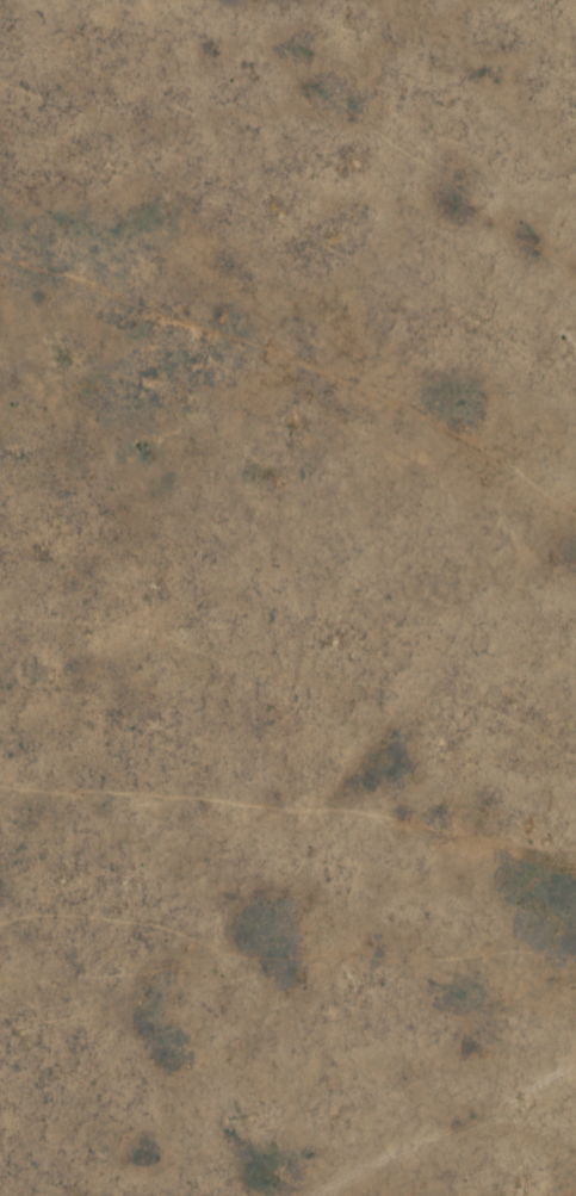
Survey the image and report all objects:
road: (248, 386)

